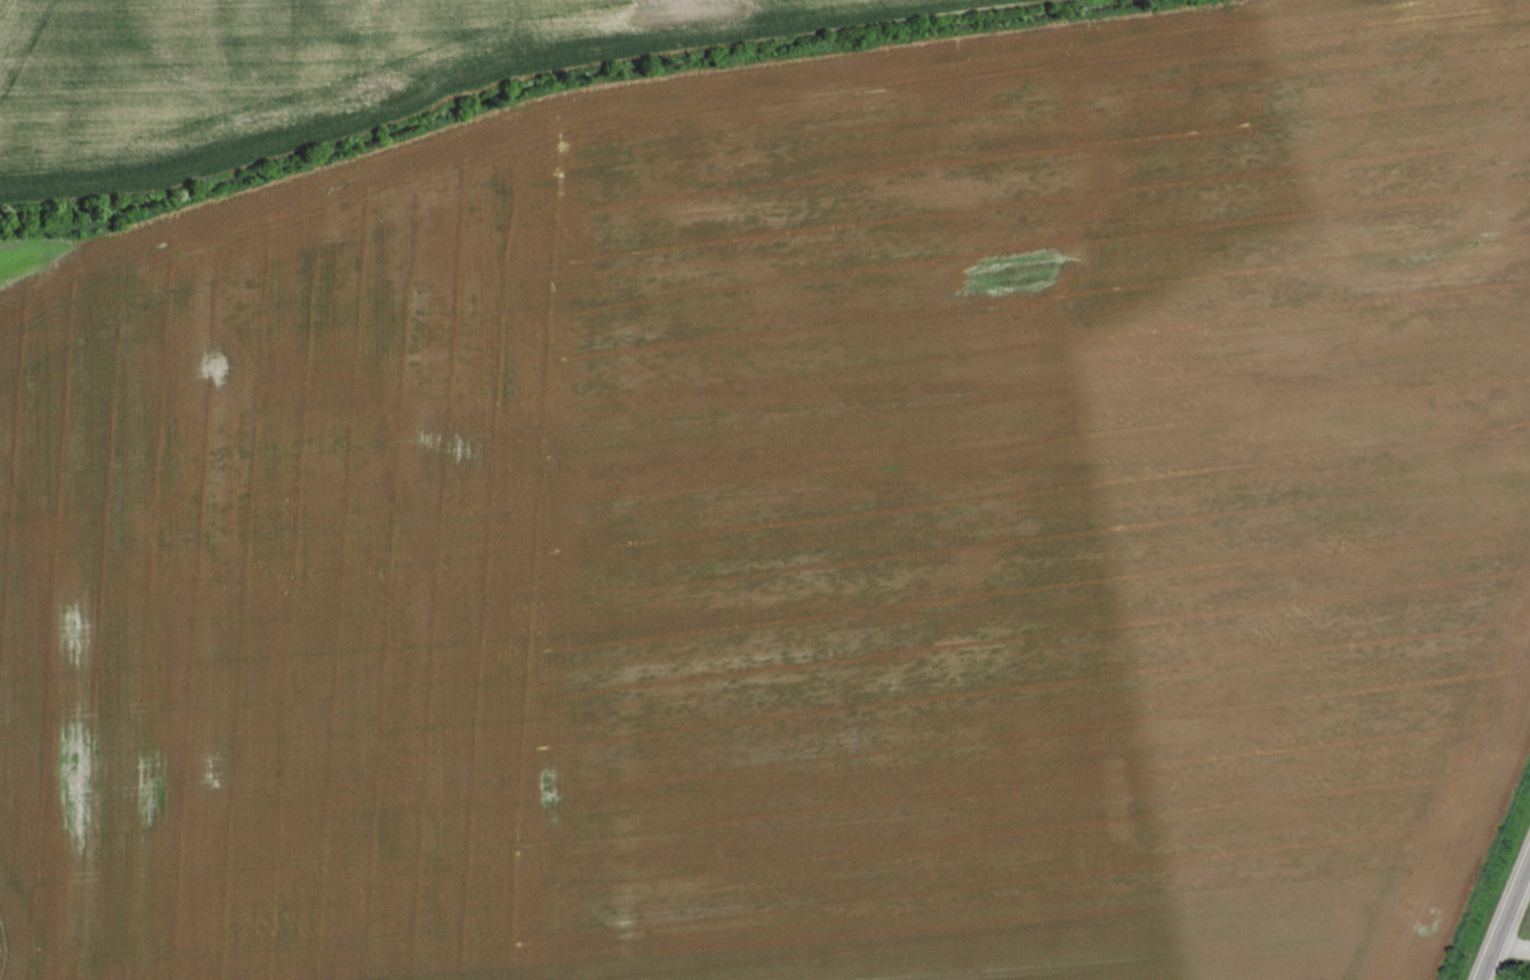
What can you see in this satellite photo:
road: (1505, 920)

